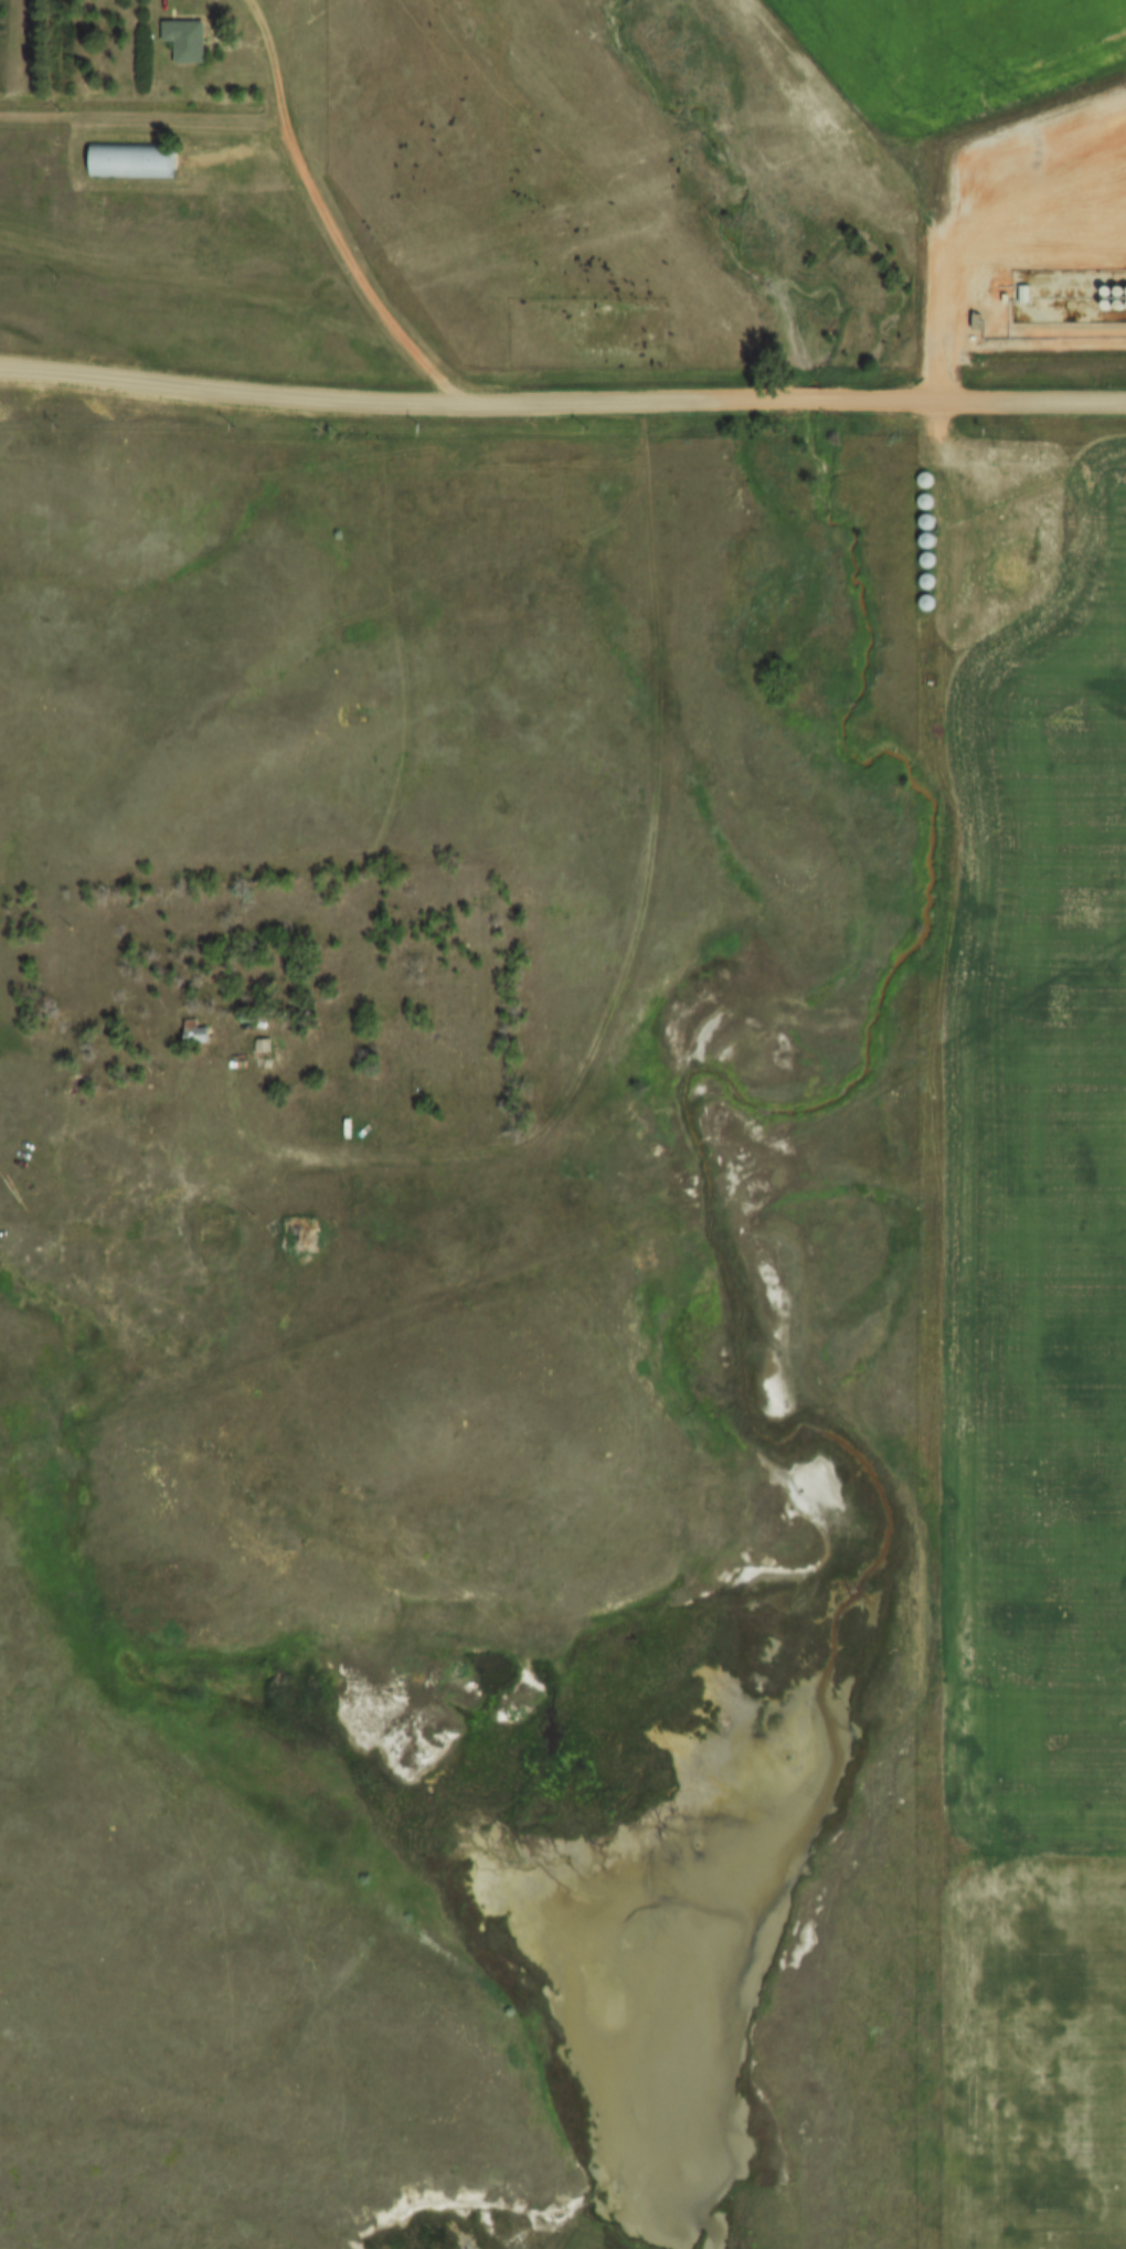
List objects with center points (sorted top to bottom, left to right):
building: (185, 39)
road: (145, 119)
building: (116, 158)
road: (330, 216)
road: (562, 399)
road: (629, 961)
building: (196, 1032)
building: (263, 1050)
building: (299, 1235)

